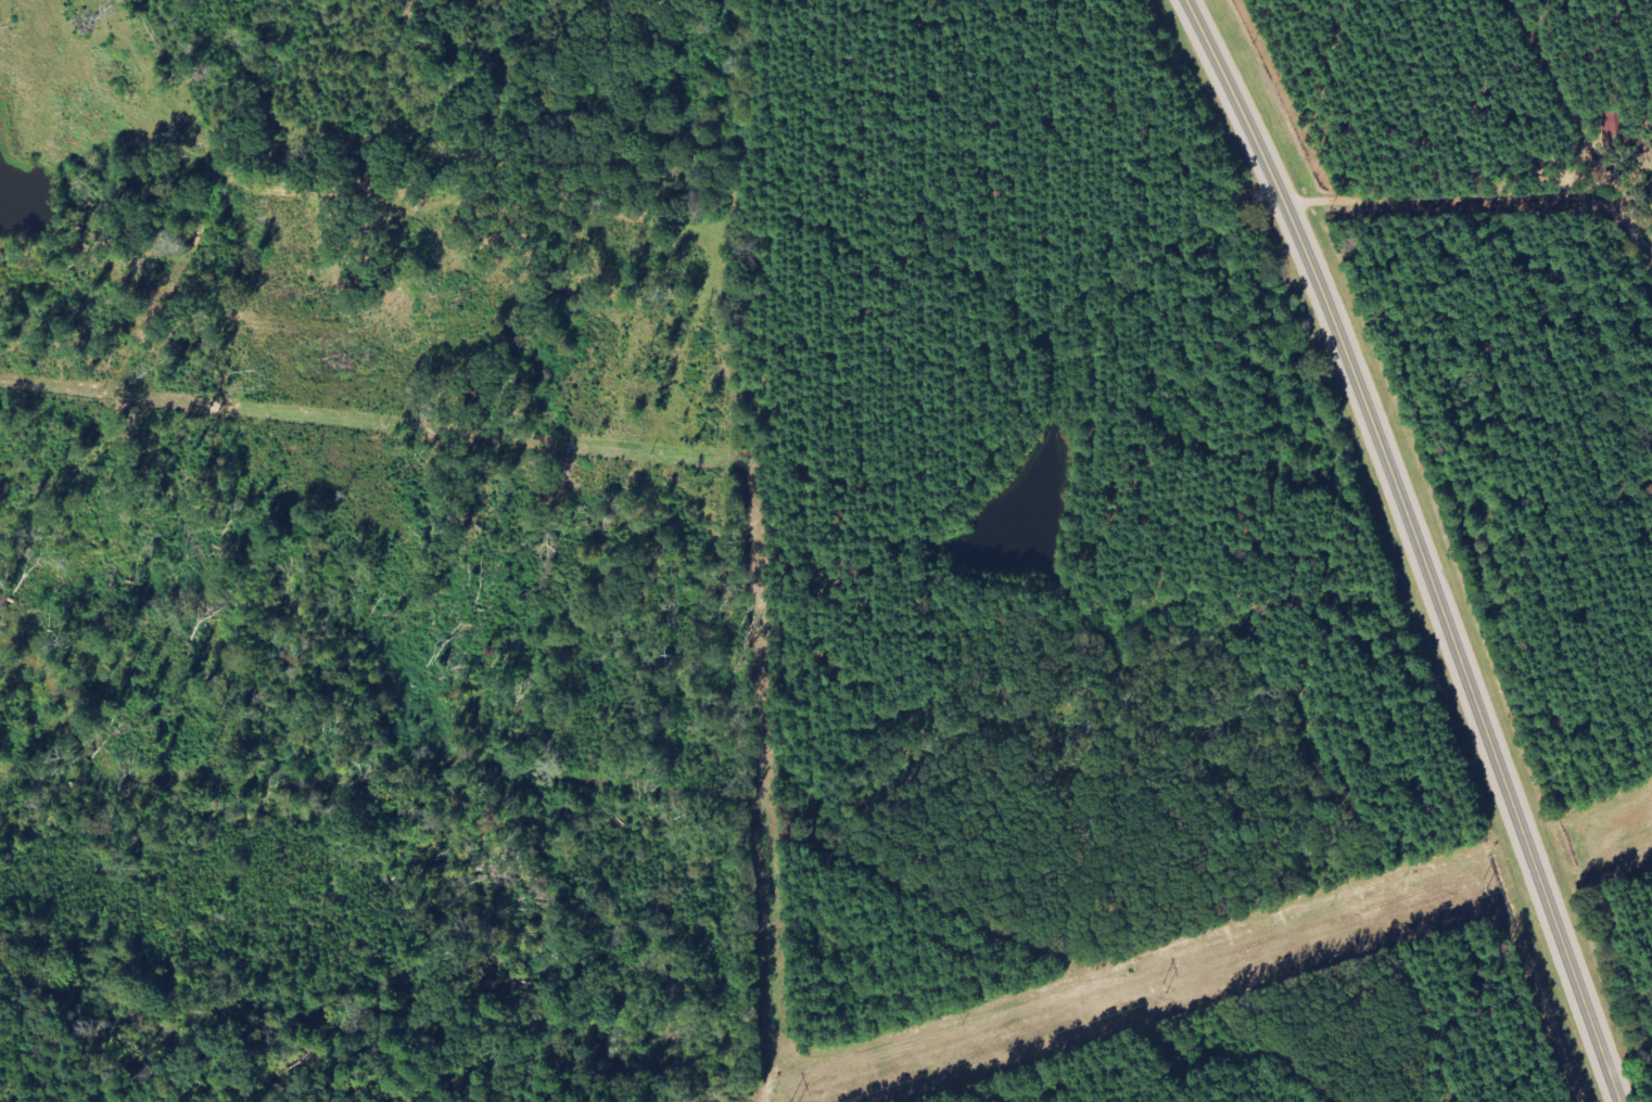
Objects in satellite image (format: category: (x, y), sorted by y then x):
road: (1477, 216)
road: (1414, 546)
road: (1644, 1094)

